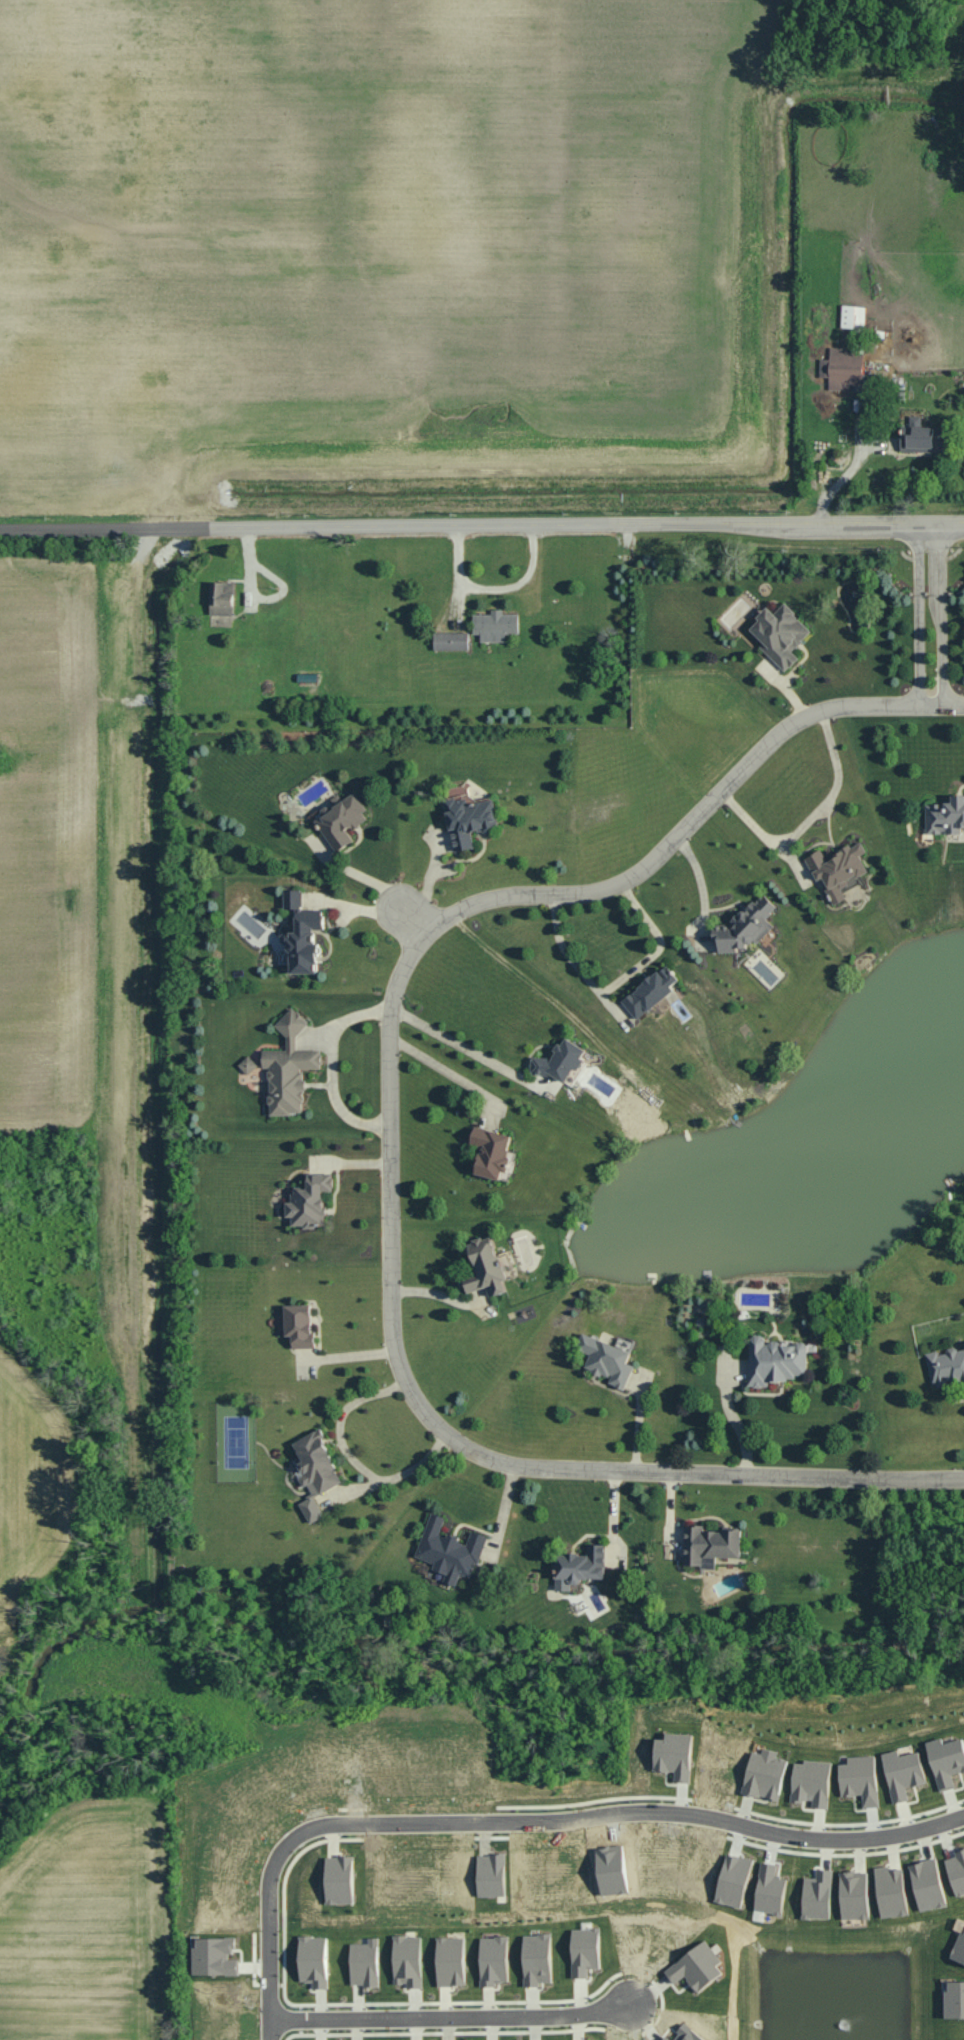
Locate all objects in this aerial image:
building: (853, 317)
building: (843, 369)
building: (927, 440)
road: (855, 463)
road: (481, 523)
building: (223, 599)
road: (954, 616)
road: (930, 617)
building: (496, 626)
building: (781, 635)
building: (451, 641)
building: (946, 815)
road: (811, 816)
building: (470, 818)
building: (343, 820)
building: (839, 868)
road: (352, 873)
road: (702, 887)
building: (294, 898)
road: (410, 922)
building: (748, 924)
building: (304, 942)
road: (617, 984)
building: (653, 990)
road: (461, 1045)
building: (561, 1060)
building: (290, 1067)
road: (444, 1070)
road: (390, 1142)
building: (493, 1150)
building: (310, 1201)
building: (489, 1266)
building: (301, 1324)
road: (344, 1355)
building: (608, 1359)
building: (777, 1360)
building: (947, 1367)
road: (343, 1418)
road: (736, 1422)
building: (316, 1471)
road: (399, 1475)
building: (711, 1545)
building: (451, 1550)
building: (581, 1566)
building: (676, 1755)
building: (947, 1760)
building: (905, 1773)
building: (766, 1774)
building: (862, 1779)
building: (813, 1783)
road: (623, 1813)
building: (957, 1872)
building: (493, 1875)
building: (341, 1880)
building: (735, 1881)
building: (929, 1885)
building: (772, 1890)
building: (892, 1892)
building: (819, 1895)
building: (855, 1895)
road: (267, 1941)
building: (586, 1950)
building: (959, 1950)
building: (215, 1957)
building: (538, 1959)
building: (315, 1961)
building: (409, 1961)
building: (495, 1961)
building: (452, 1962)
building: (366, 1963)
building: (698, 1967)
building: (955, 2001)
road: (452, 2018)
building: (688, 2035)
building: (667, 2038)

